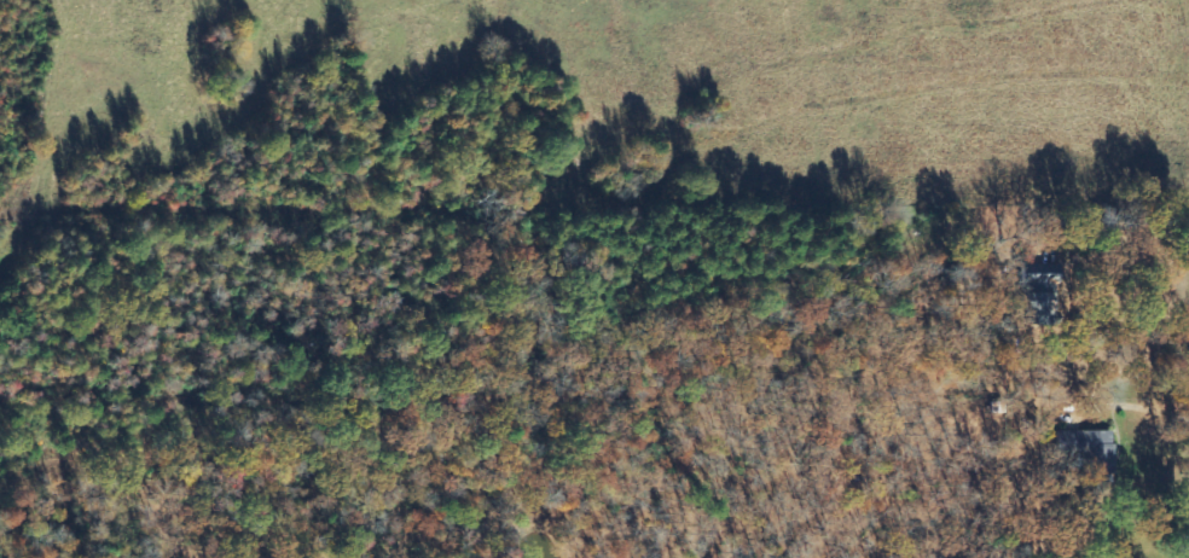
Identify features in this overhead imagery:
building: (1086, 452)

